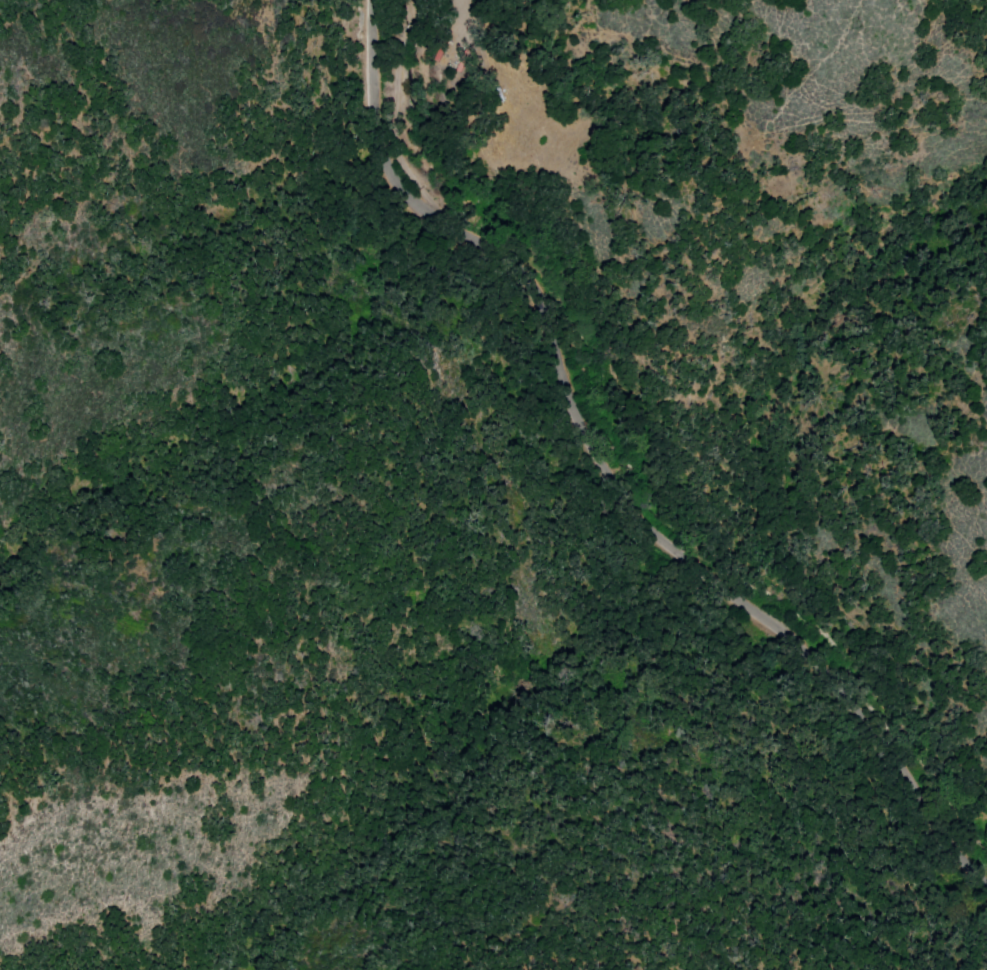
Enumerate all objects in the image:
road: (407, 80)
road: (603, 490)

